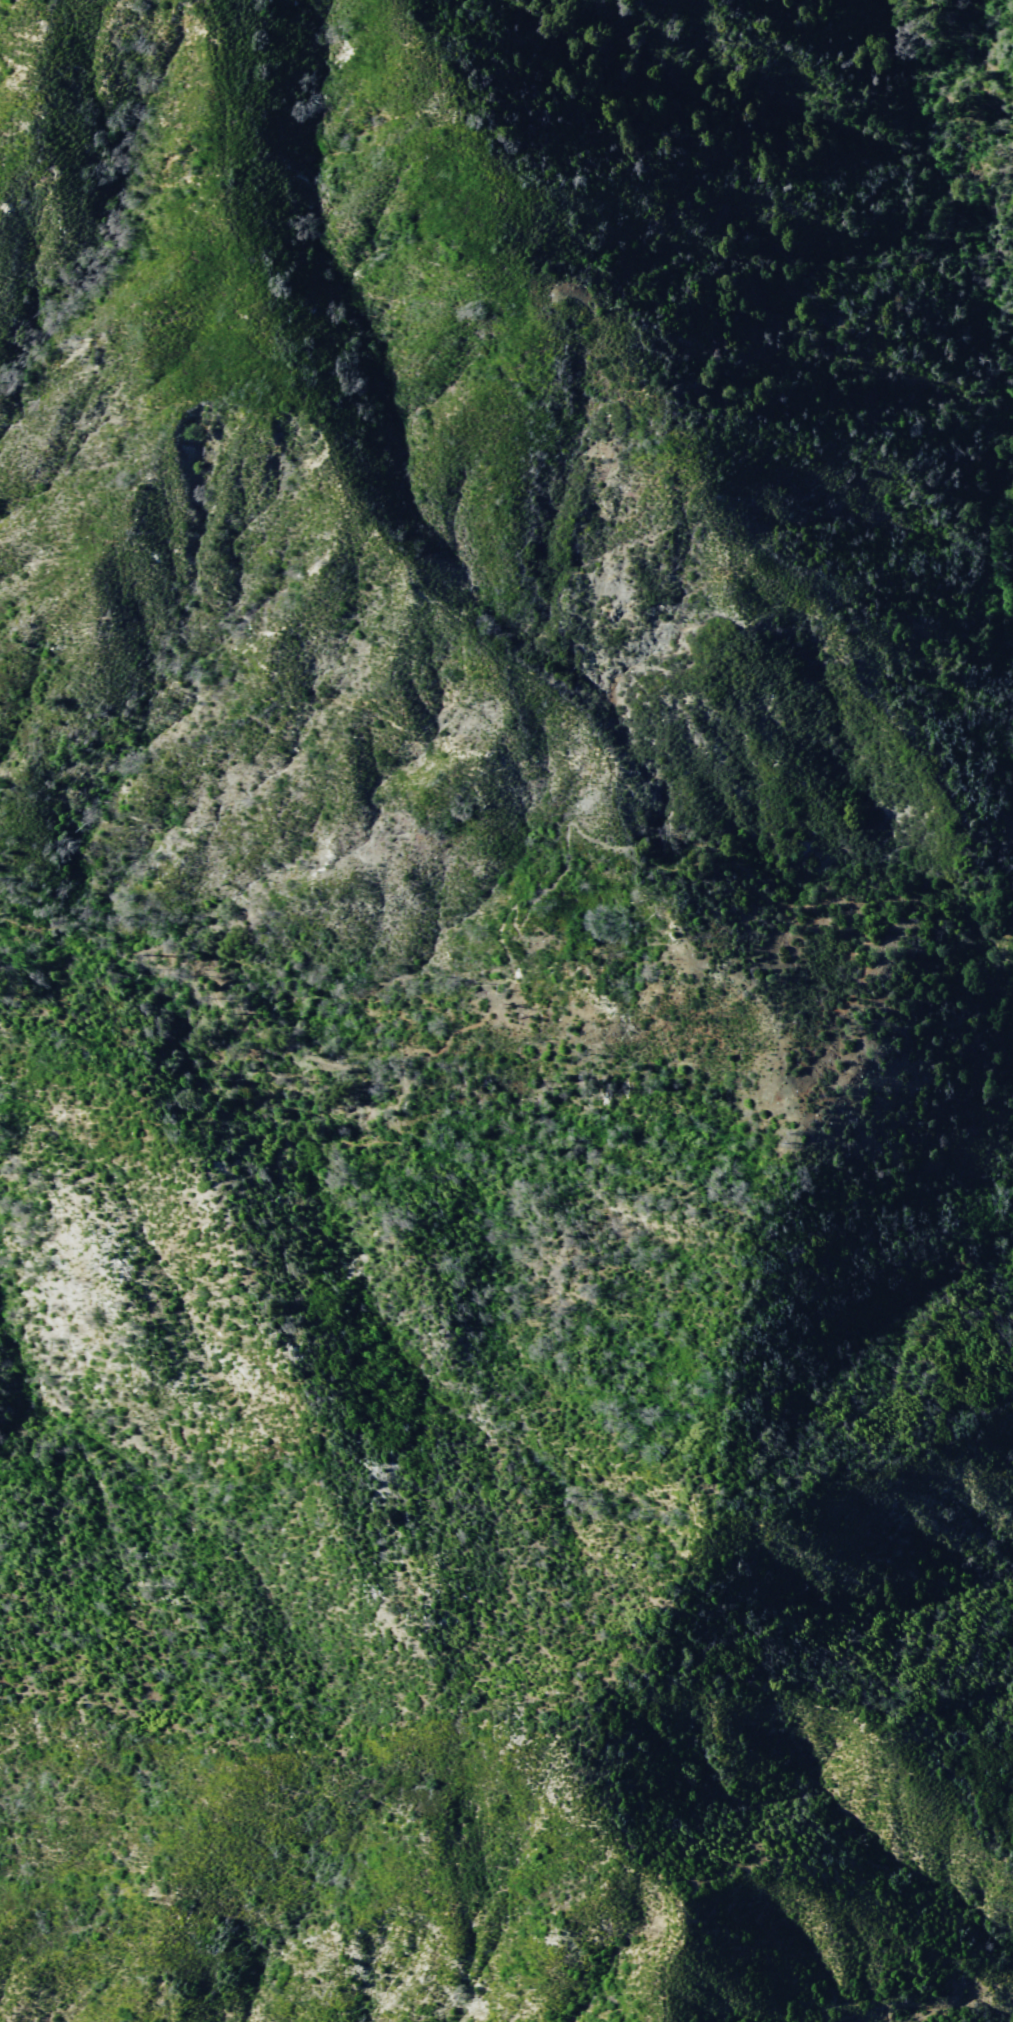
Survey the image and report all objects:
road: (984, 128)
road: (426, 748)
road: (1012, 986)

